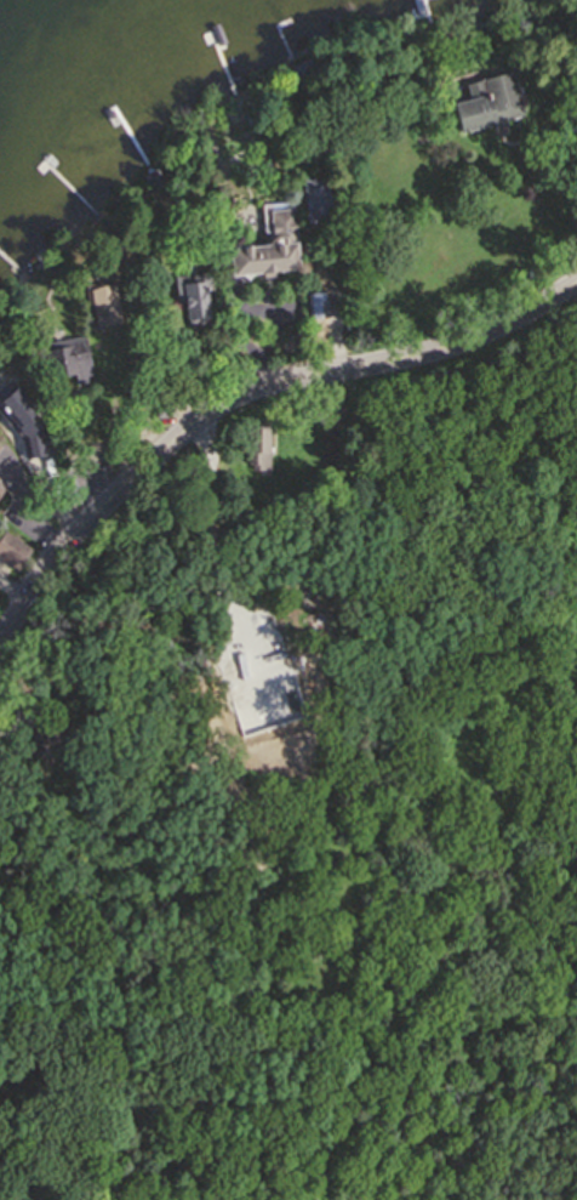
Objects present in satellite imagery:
building: (388, 45)
building: (296, 72)
building: (485, 99)
building: (152, 177)
building: (313, 198)
building: (265, 243)
building: (39, 256)
building: (193, 294)
building: (102, 302)
building: (319, 307)
road: (296, 314)
building: (315, 336)
building: (292, 342)
building: (65, 356)
building: (136, 388)
road: (234, 397)
building: (161, 404)
building: (22, 409)
building: (256, 444)
building: (0, 447)
building: (0, 488)
building: (62, 494)
building: (12, 547)
building: (90, 558)
building: (41, 738)

